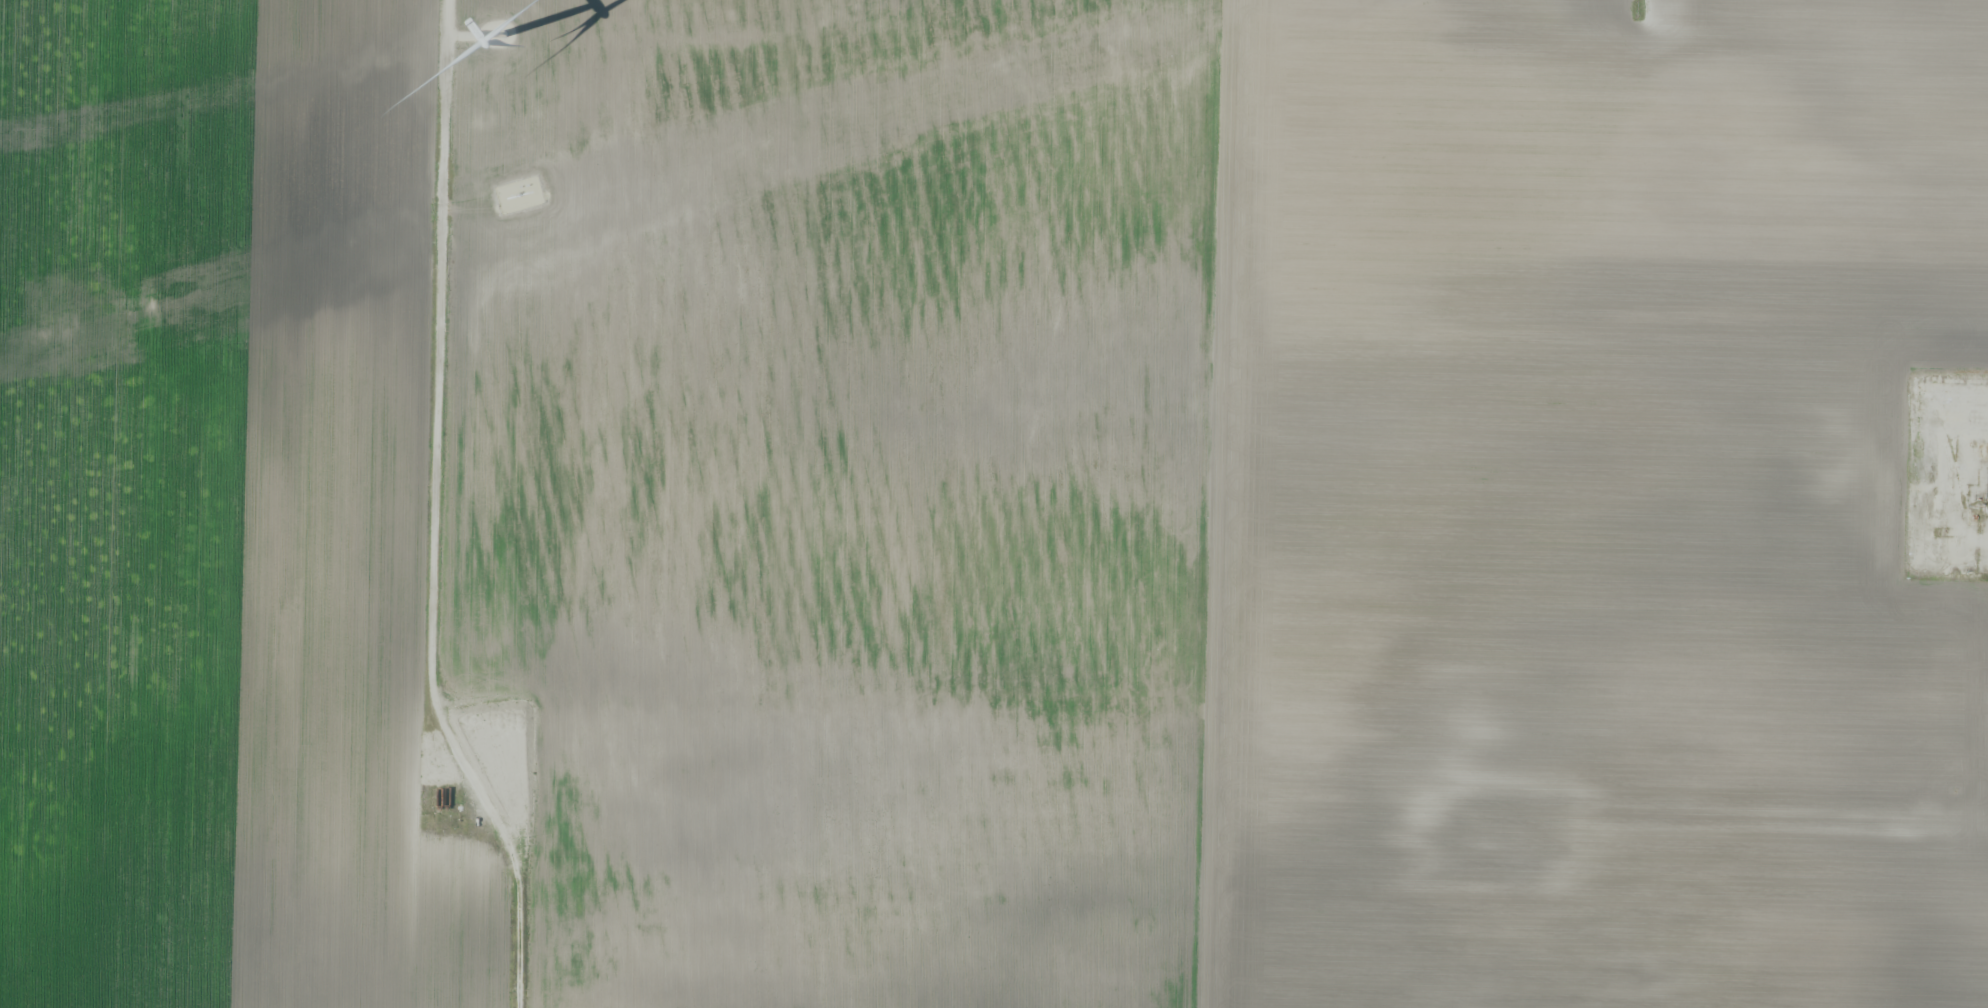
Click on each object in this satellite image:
wind turbine: (496, 30)
road: (1969, 468)
road: (436, 513)

